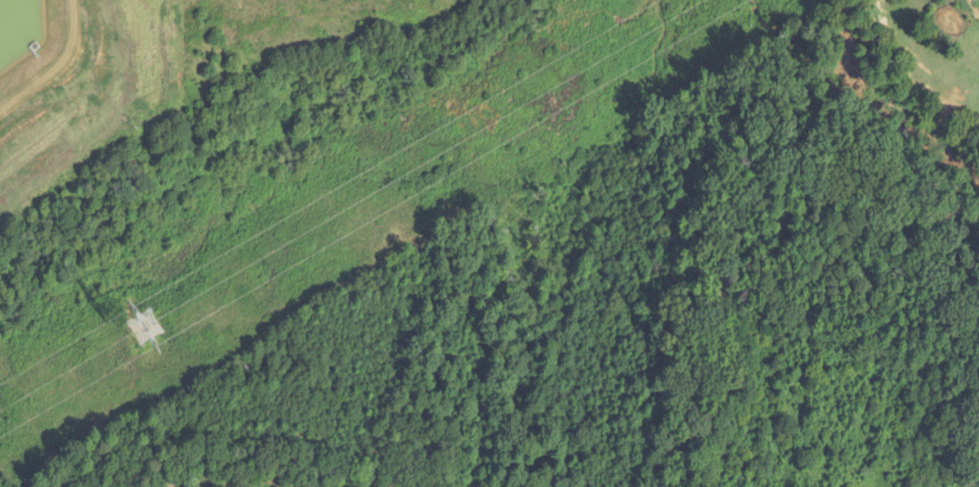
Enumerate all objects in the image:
building: (972, 0)
power tower: (146, 327)

